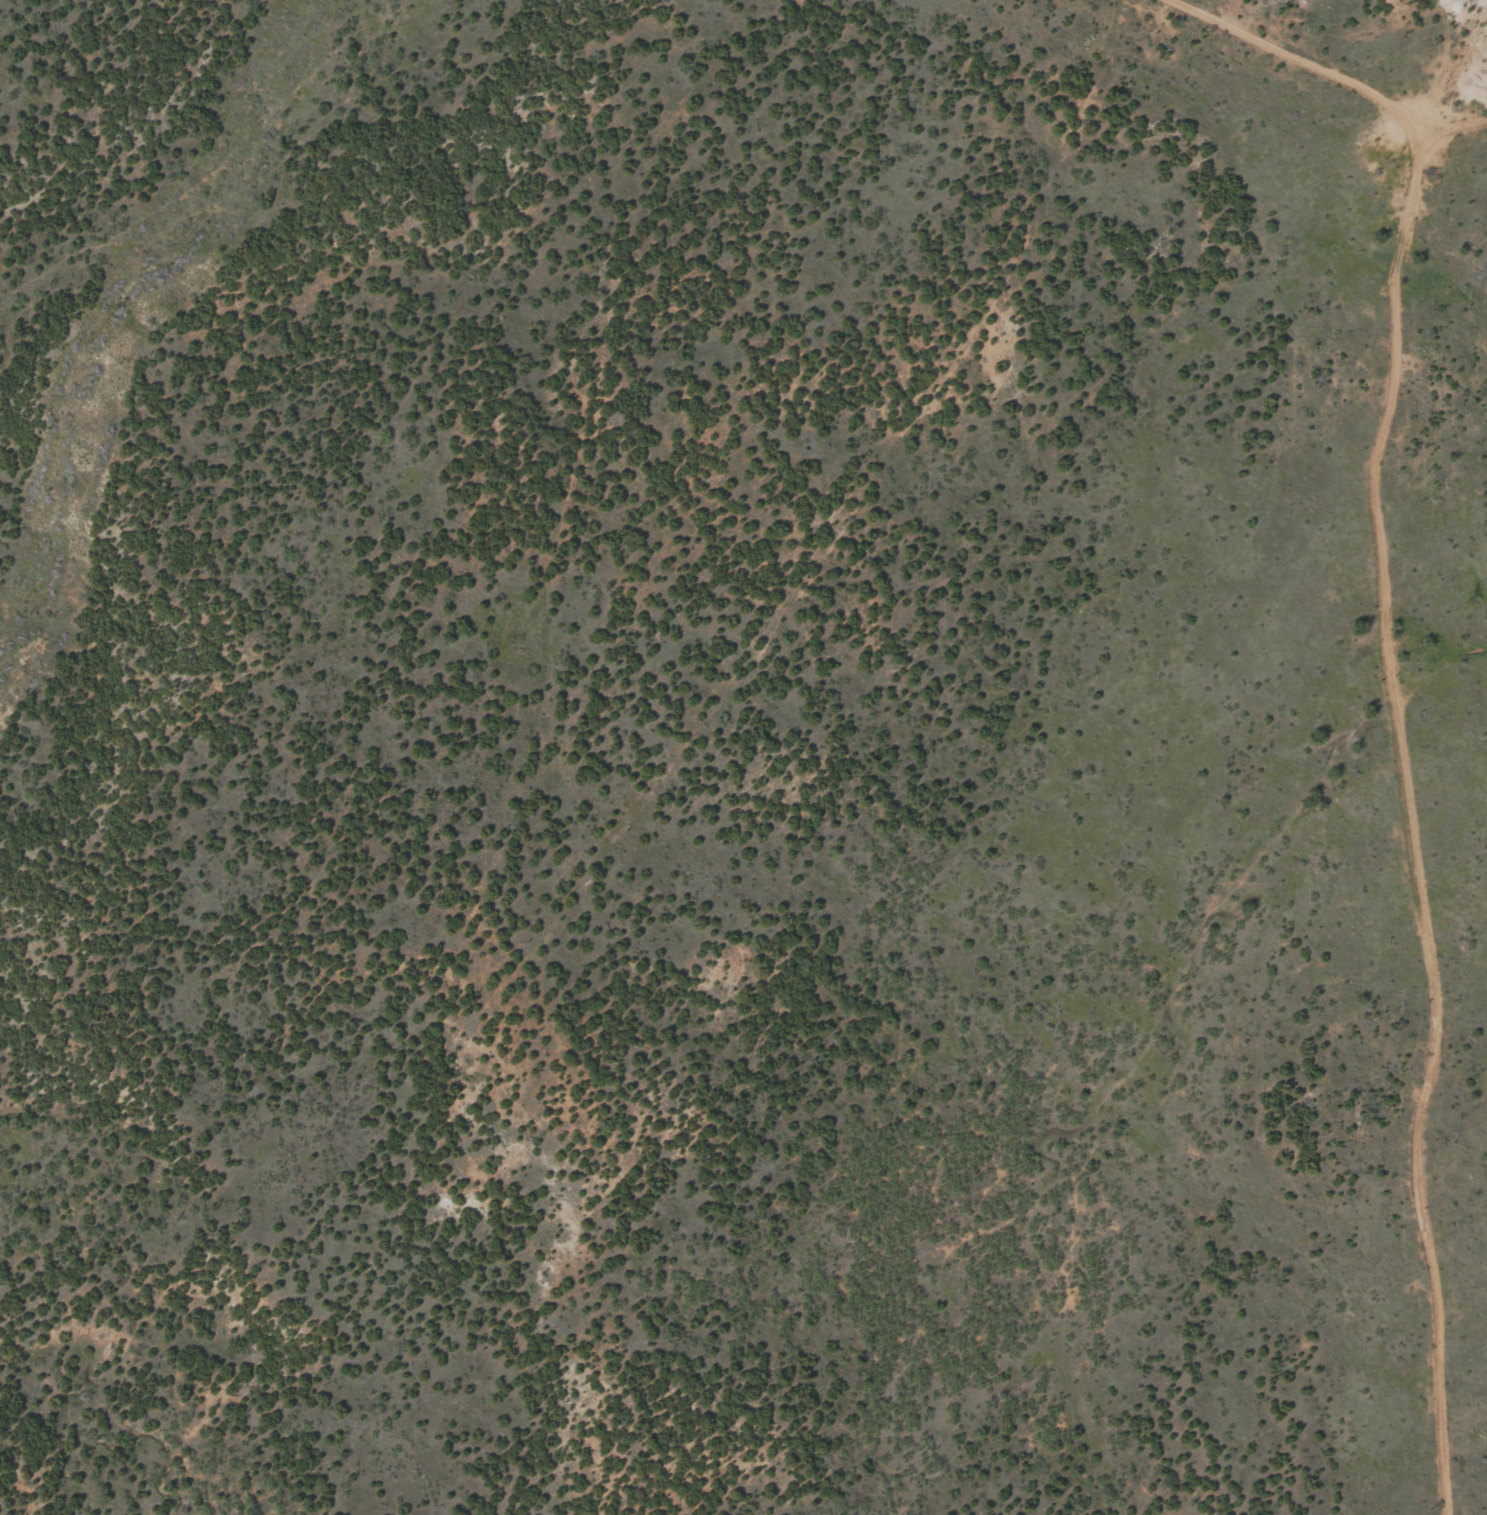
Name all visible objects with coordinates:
road: (1333, 58)
road: (1449, 150)
road: (1424, 797)

